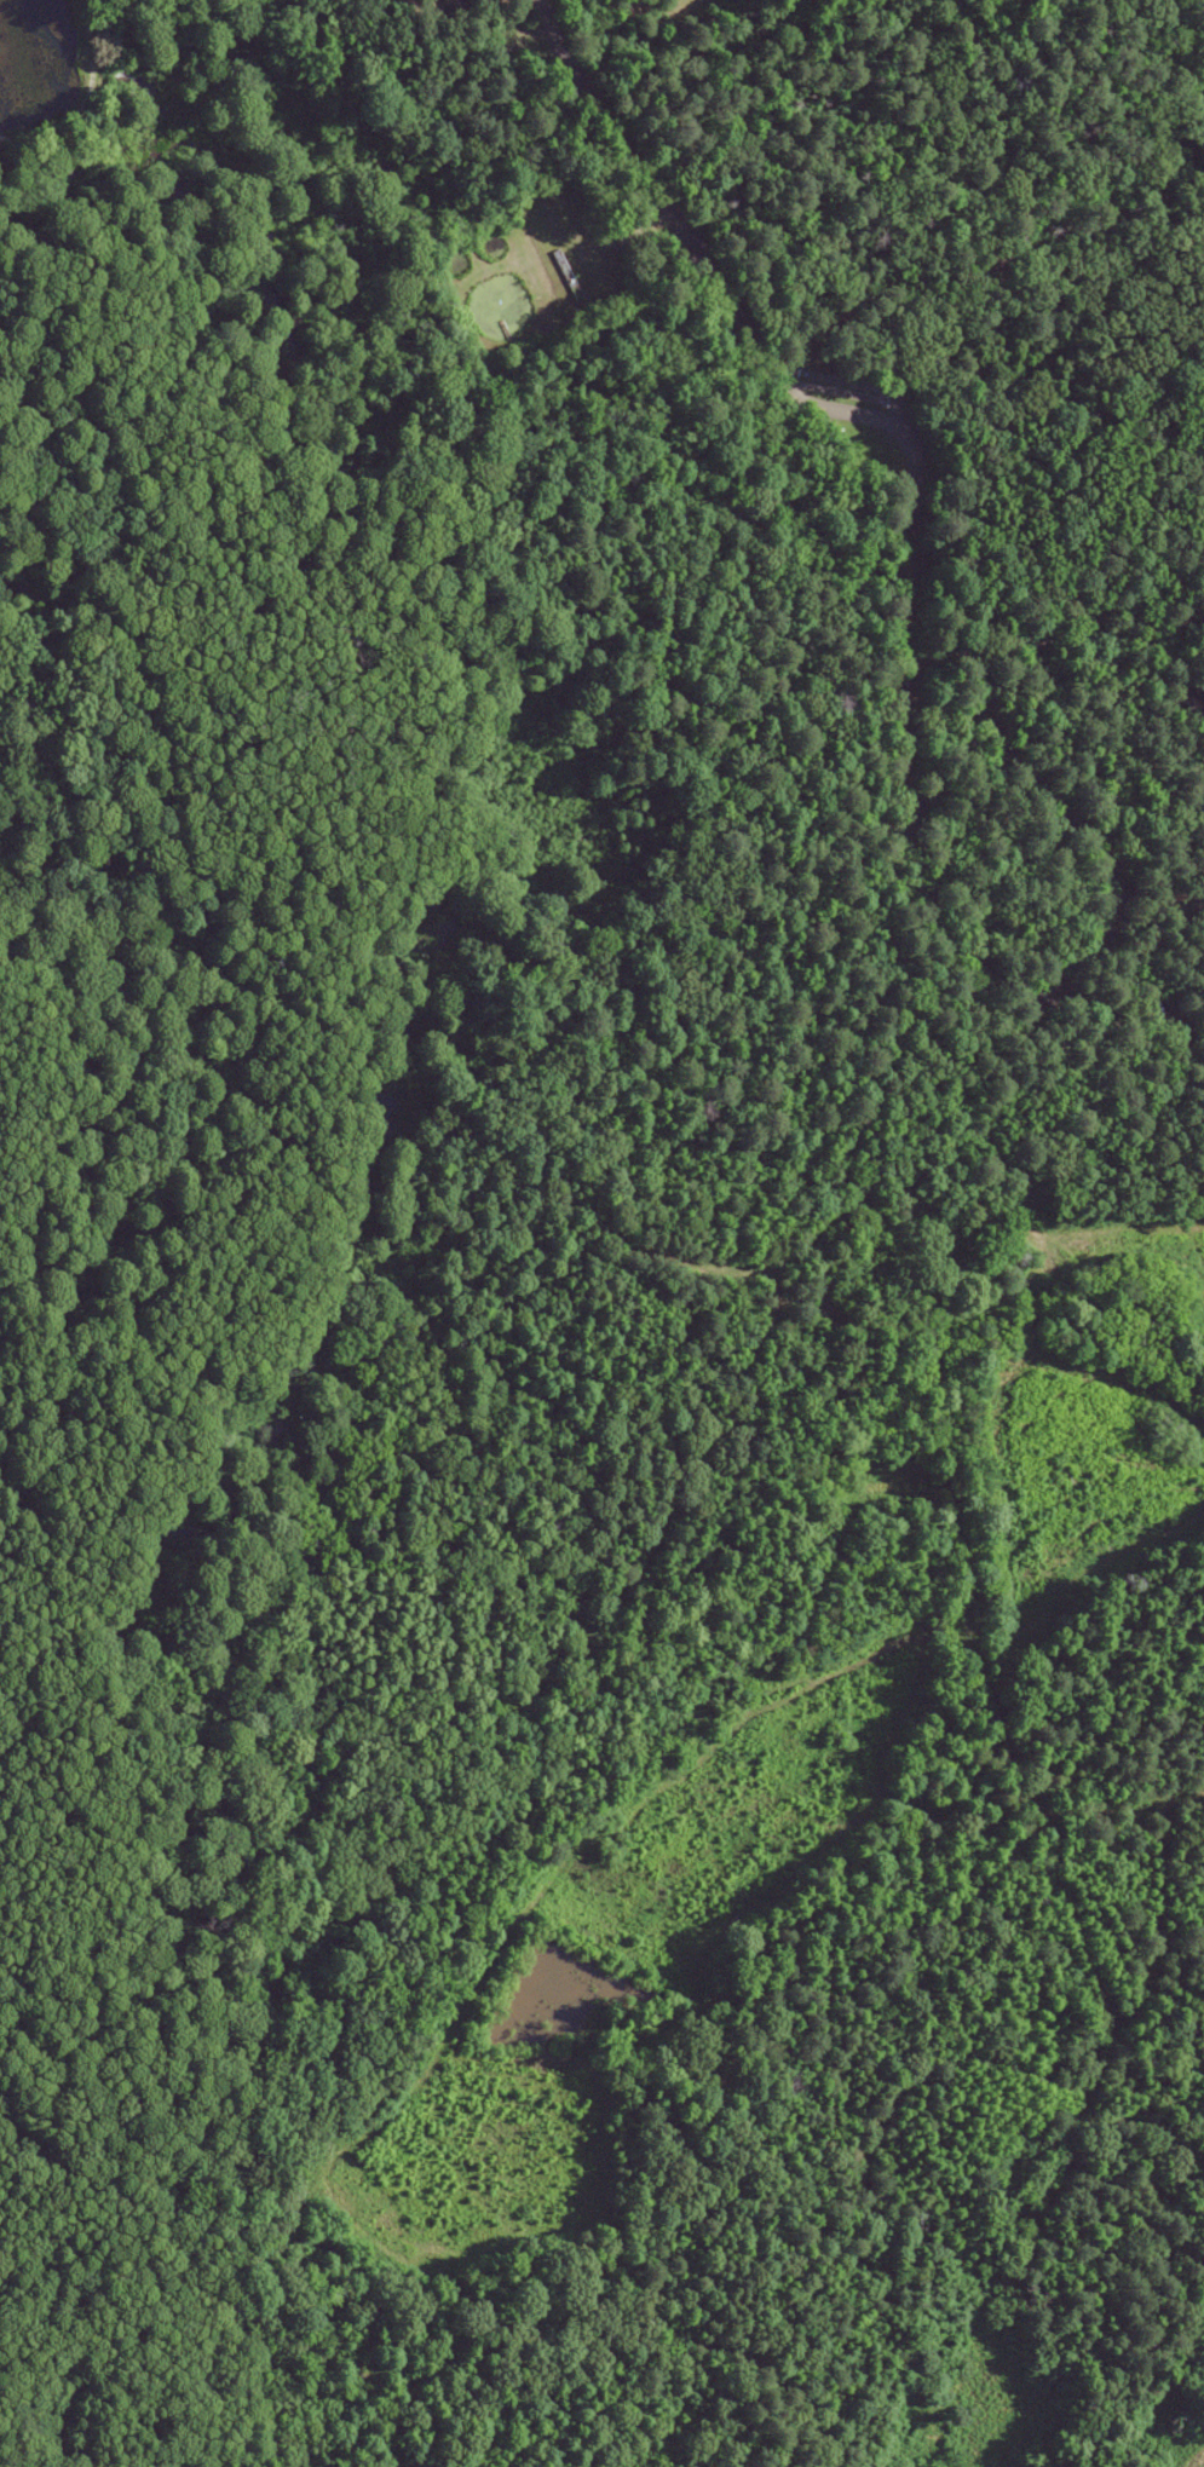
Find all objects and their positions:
road: (82, 96)
road: (762, 357)
park: (500, 866)

